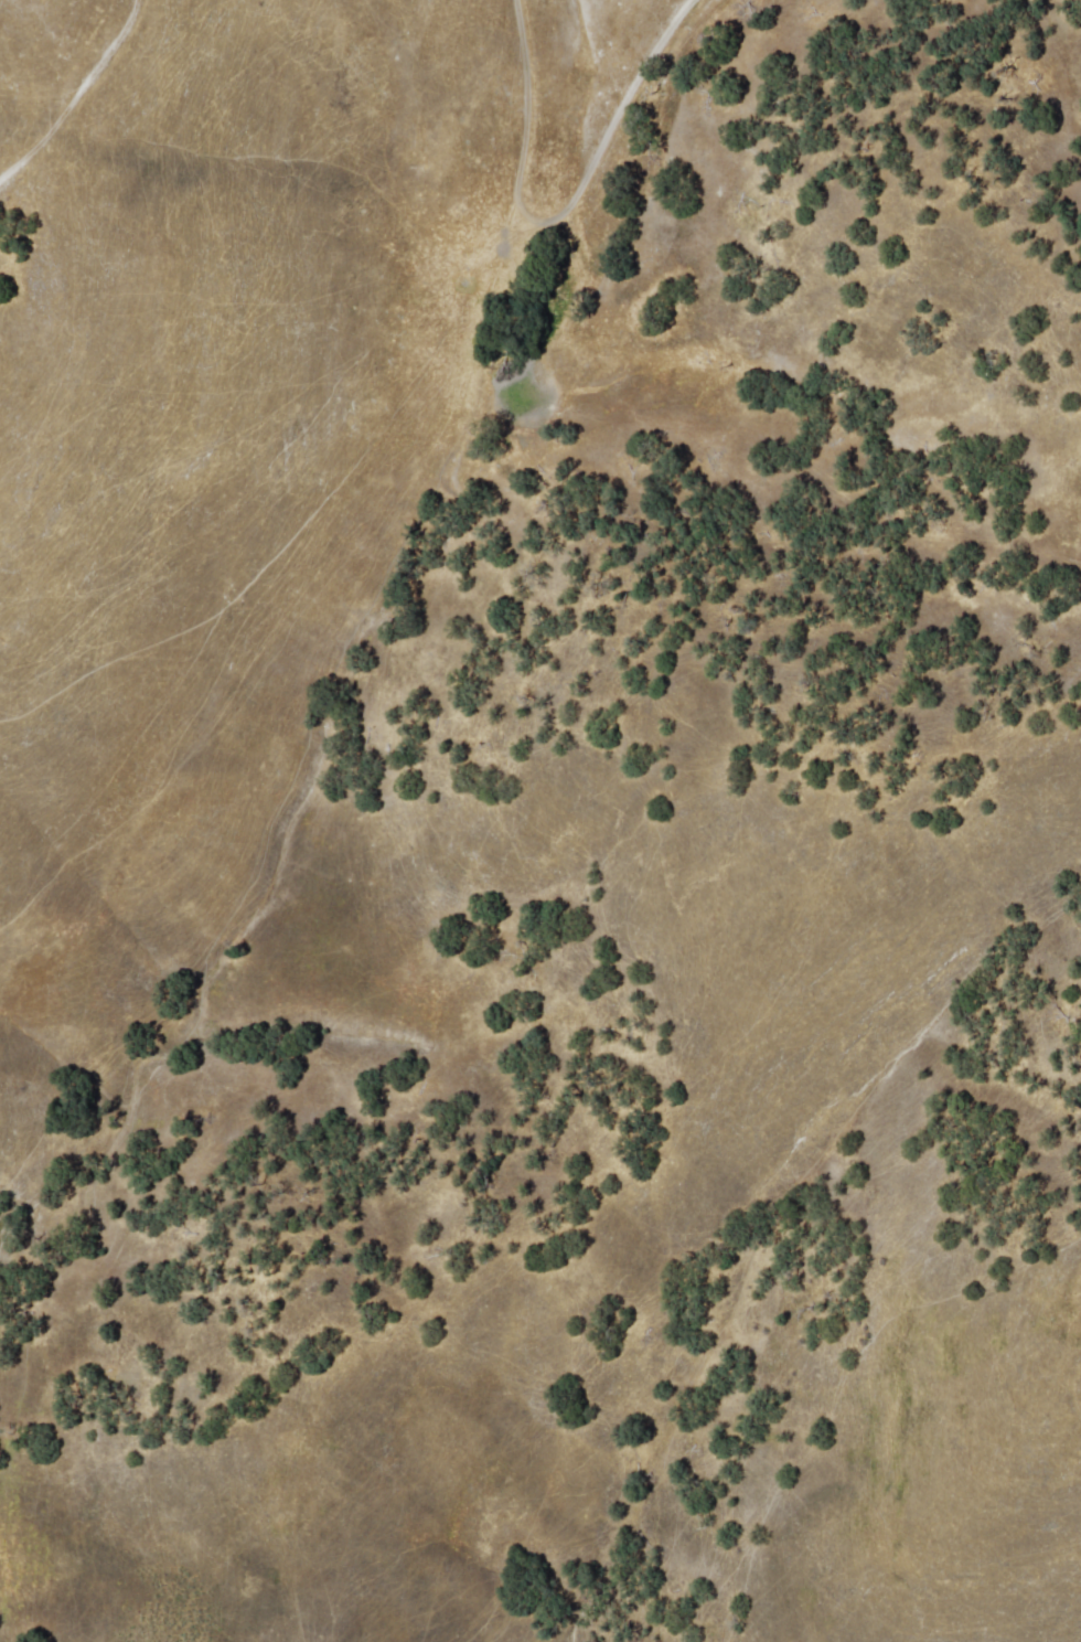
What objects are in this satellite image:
road: (88, 85)

